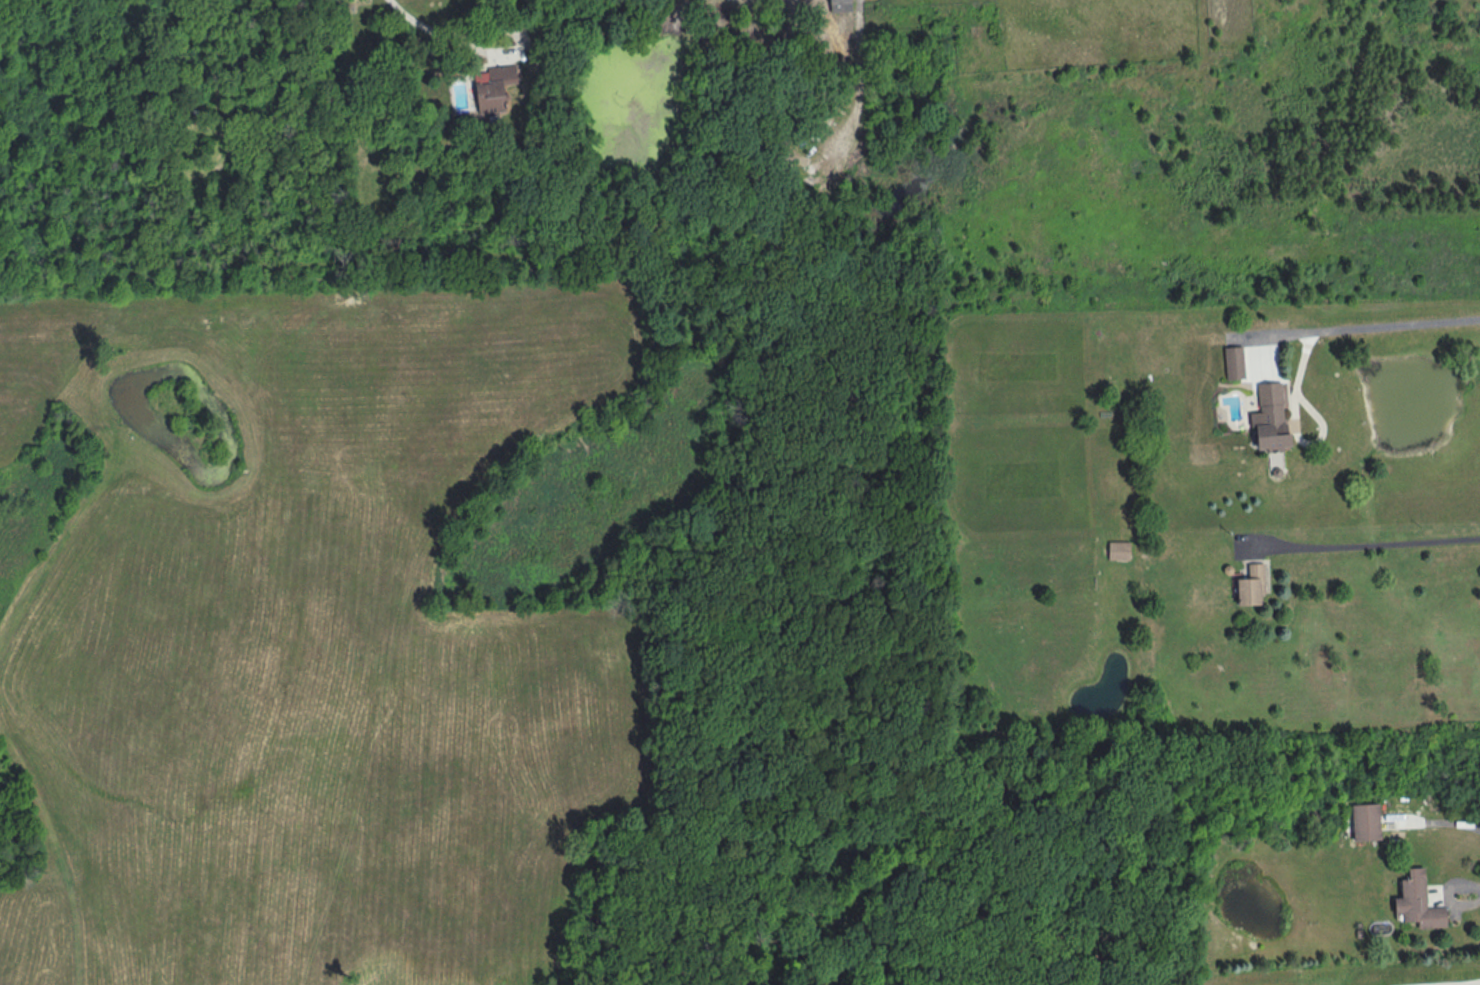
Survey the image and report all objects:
building: (837, 5)
road: (429, 28)
building: (490, 89)
road: (854, 90)
road: (1364, 326)
building: (1232, 363)
building: (1268, 418)
road: (1368, 543)
building: (1117, 550)
building: (1249, 585)
building: (1364, 821)
road: (1431, 822)
road: (1446, 896)
building: (1416, 901)

